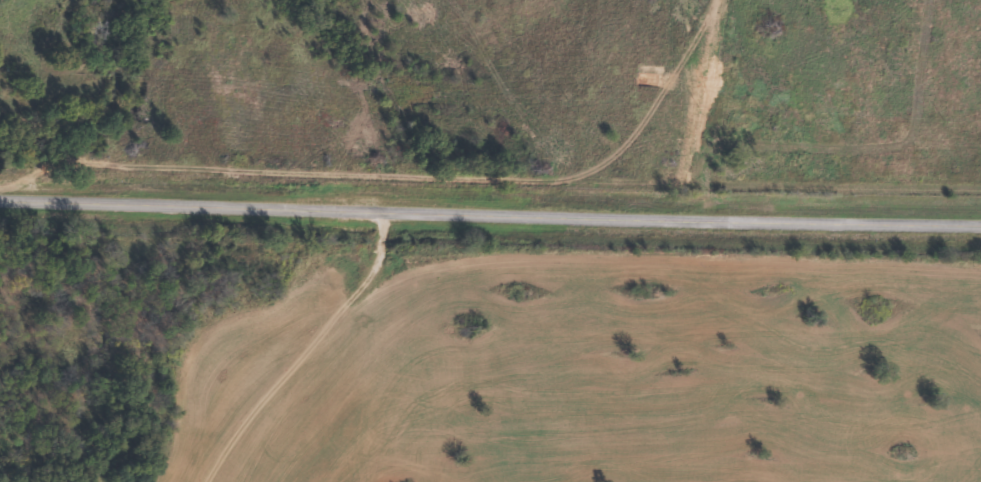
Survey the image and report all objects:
road: (490, 217)

